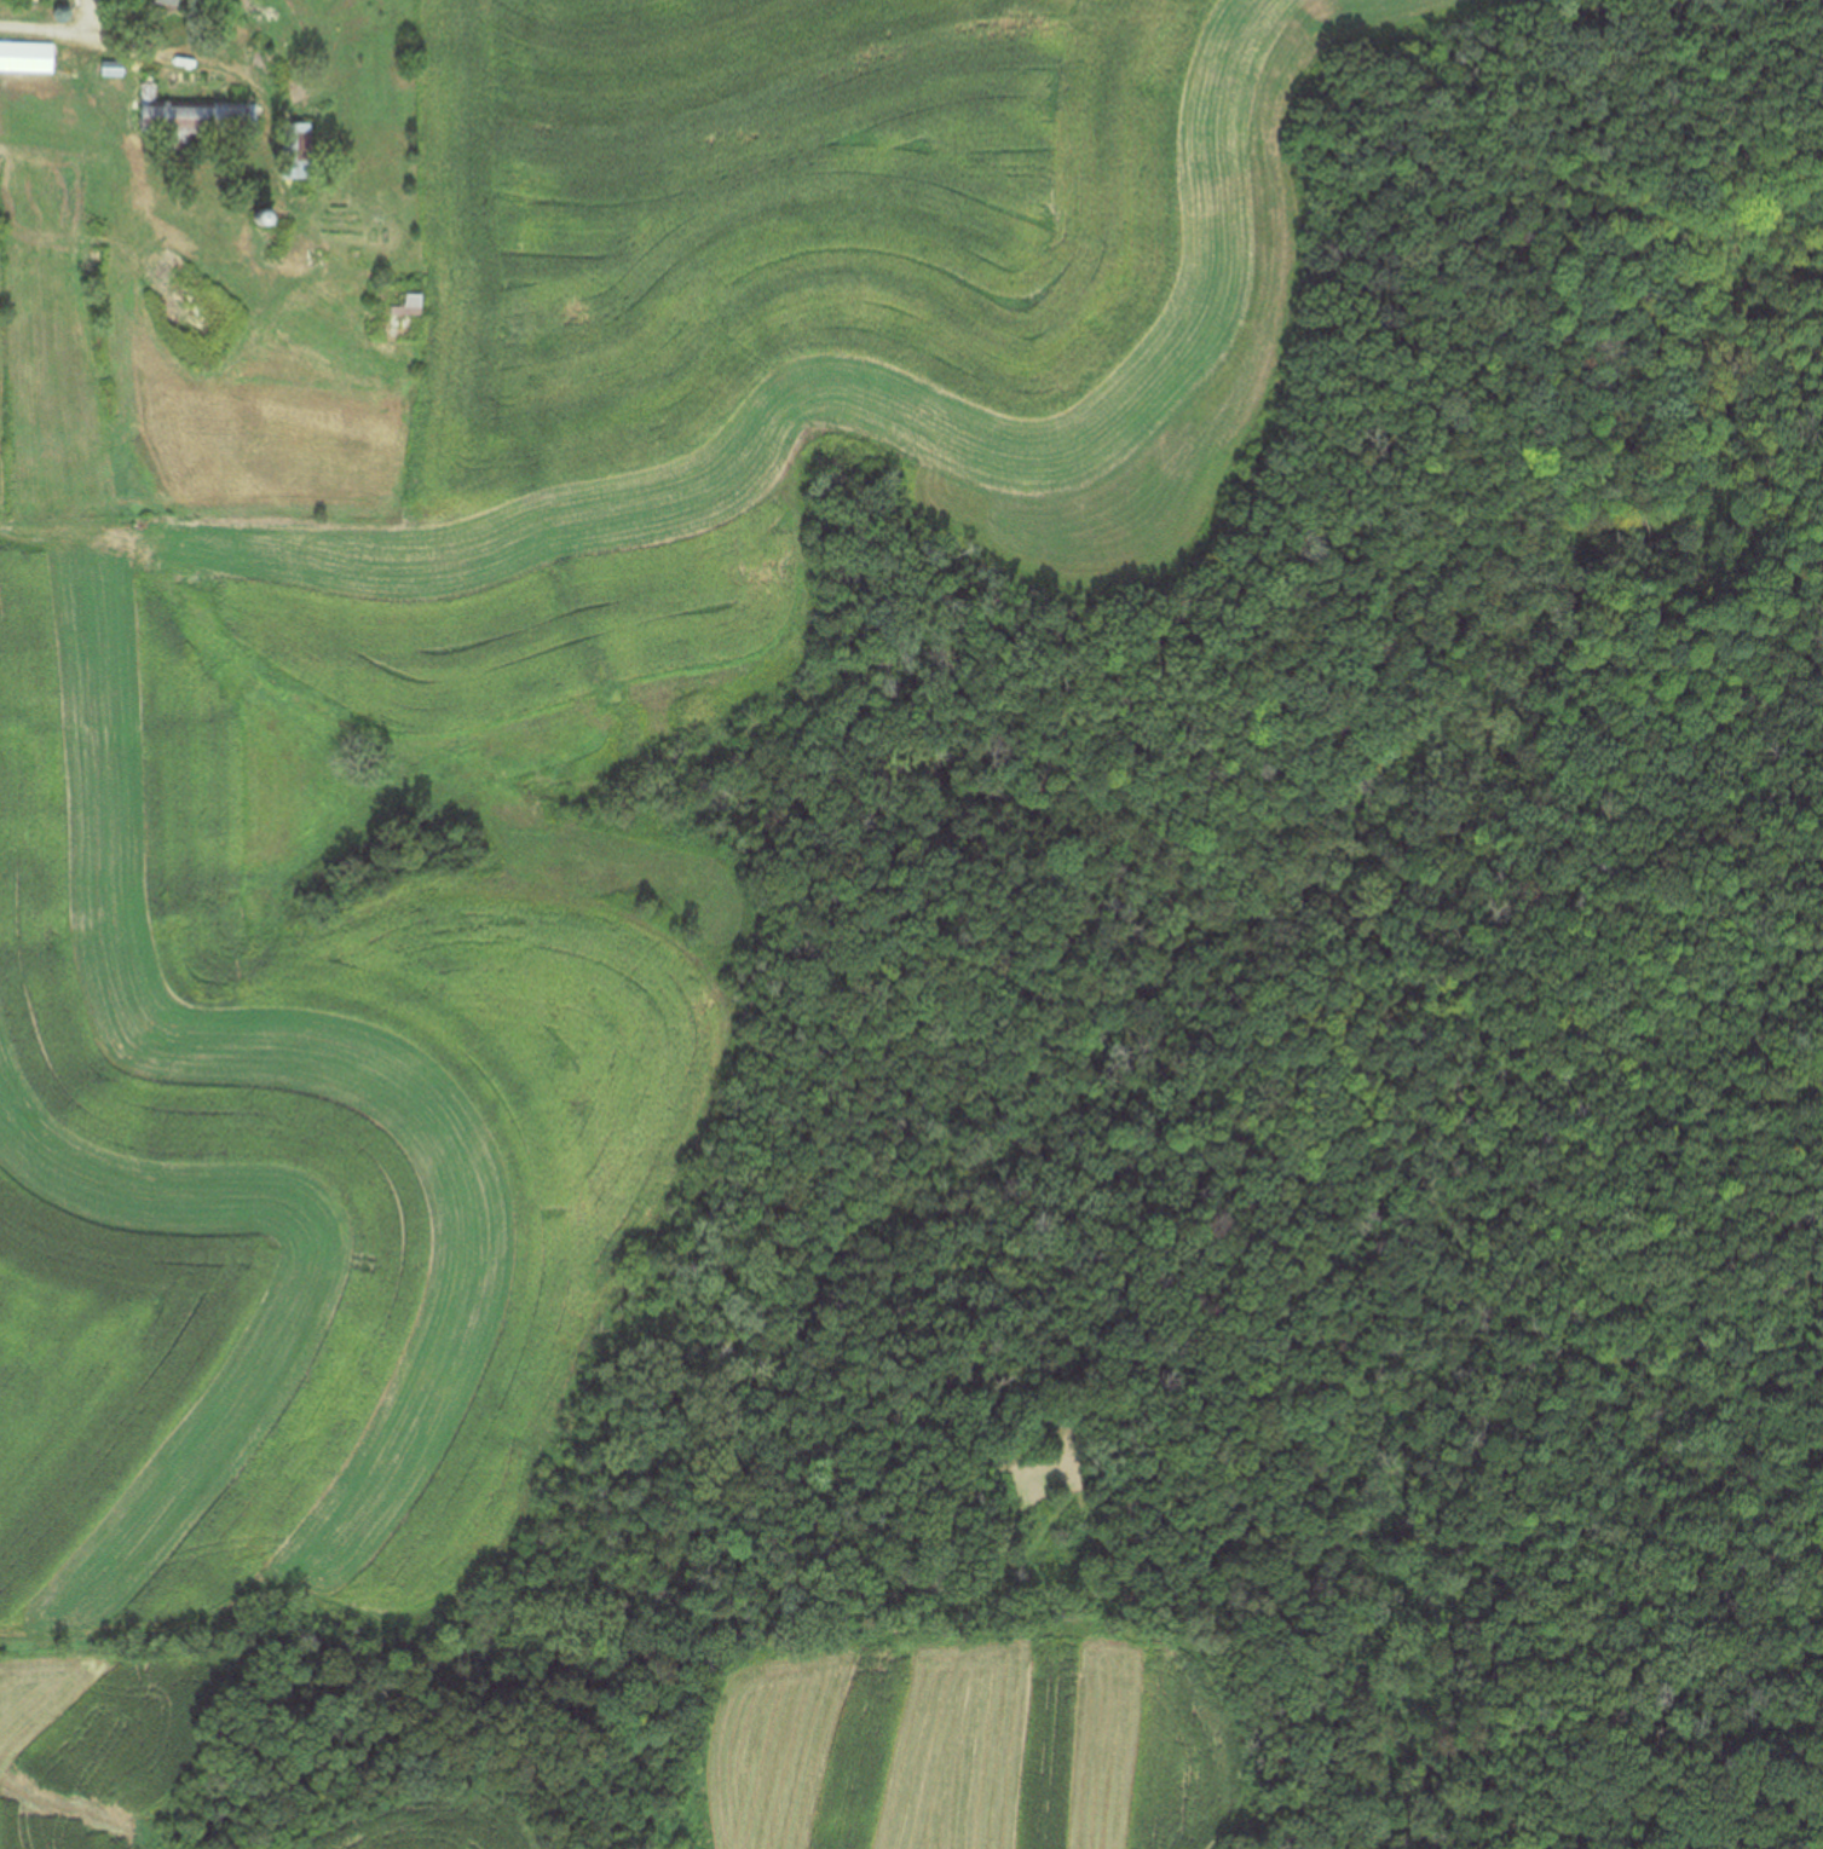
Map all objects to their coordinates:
building: (160, 1)
road: (41, 28)
building: (23, 56)
building: (104, 69)
building: (188, 121)
building: (290, 150)
building: (403, 305)

